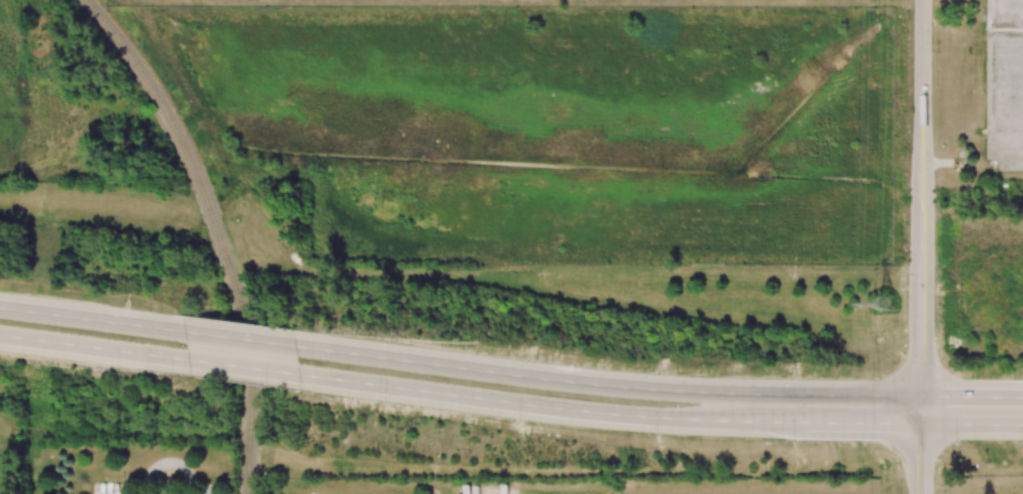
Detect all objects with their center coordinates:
road: (1015, 28)
street lamp: (933, 41)
road: (1015, 70)
parking lot: (1004, 83)
road: (1007, 83)
road: (1015, 111)
road: (922, 118)
street lamp: (935, 176)
railway: (216, 229)
street lamp: (904, 288)
power tower: (887, 303)
street lamp: (126, 304)
road: (922, 316)
road: (92, 321)
street lamp: (394, 336)
road: (239, 339)
road: (94, 346)
street lamp: (528, 358)
road: (243, 365)
street lamp: (660, 371)
street lamp: (118, 372)
street lamp: (955, 373)
street lamp: (795, 374)
street lamp: (1022, 375)
road: (607, 386)
road: (972, 396)
road: (510, 401)
street lamp: (385, 403)
road: (921, 409)
road: (760, 420)
street lamp: (520, 421)
road: (859, 421)
road: (972, 423)
street lamp: (657, 435)
street lamp: (794, 442)
street lamp: (1022, 442)
street lamp: (956, 443)
park: (10, 451)
road: (920, 458)

